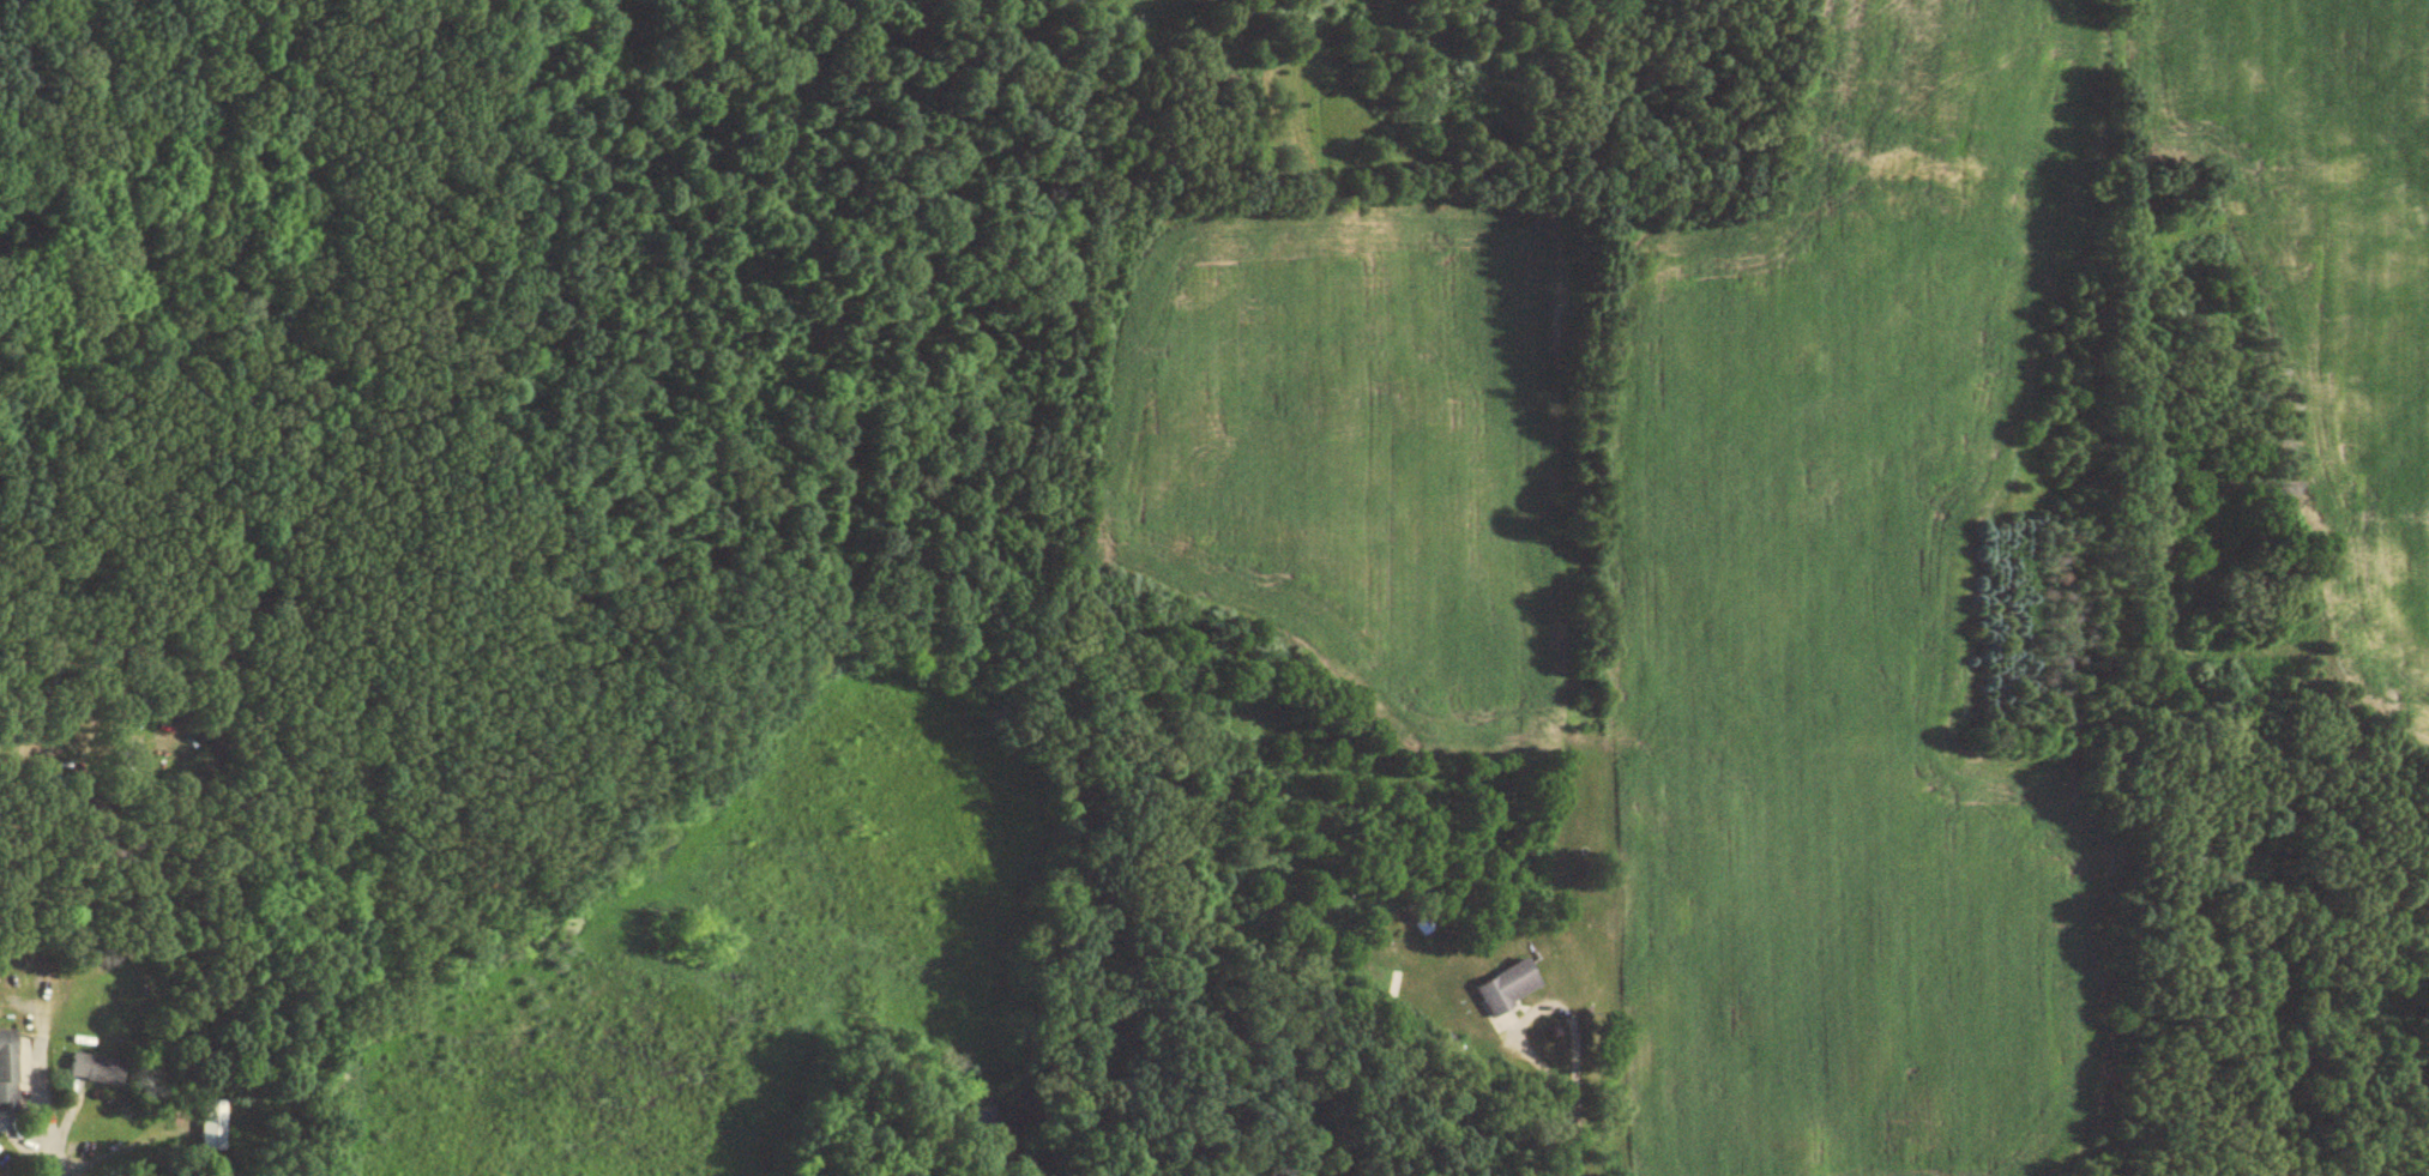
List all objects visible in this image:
building: (1506, 993)
road: (1541, 1009)
building: (96, 1074)
road: (36, 1104)
building: (215, 1129)
road: (1575, 1145)

